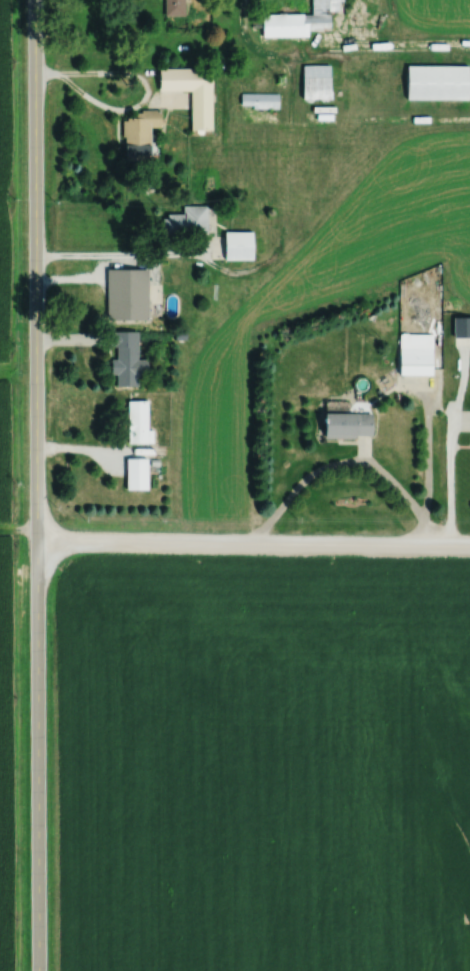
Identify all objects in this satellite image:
building: (174, 7)
building: (300, 20)
road: (245, 37)
building: (317, 82)
building: (438, 82)
road: (145, 87)
building: (192, 92)
building: (259, 100)
building: (139, 134)
building: (186, 221)
building: (239, 245)
road: (102, 263)
road: (36, 269)
building: (127, 294)
building: (127, 359)
building: (416, 361)
building: (138, 422)
building: (348, 425)
road: (90, 447)
road: (345, 461)
building: (136, 474)
road: (449, 479)
road: (253, 539)
road: (37, 755)

